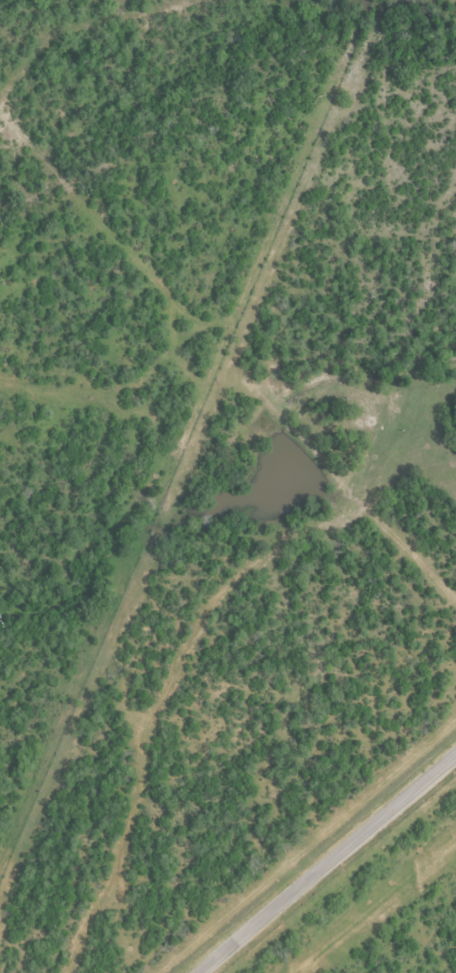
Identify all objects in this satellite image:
road: (330, 866)

